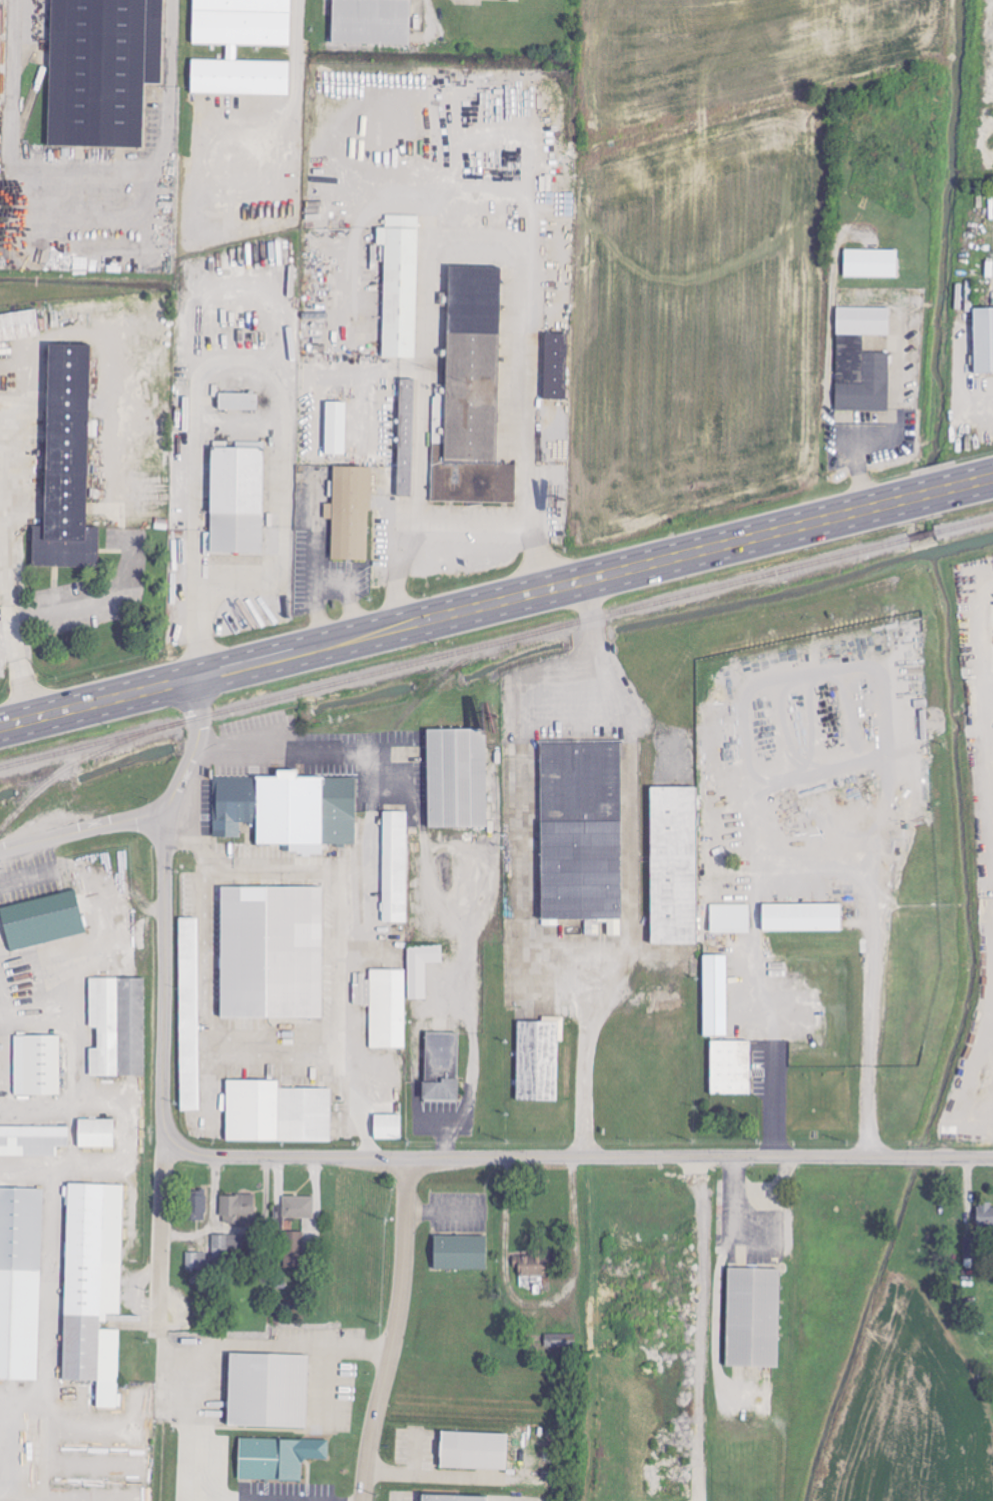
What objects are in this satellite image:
building: (376, 28)
road: (175, 43)
building: (246, 50)
building: (108, 74)
road: (45, 172)
road: (456, 239)
building: (870, 263)
building: (400, 285)
road: (239, 289)
building: (19, 325)
building: (983, 341)
building: (861, 360)
building: (555, 366)
building: (238, 401)
building: (335, 428)
building: (405, 437)
building: (66, 465)
building: (236, 501)
building: (350, 512)
road: (469, 530)
road: (317, 562)
road: (602, 576)
road: (257, 578)
road: (334, 580)
road: (9, 600)
road: (194, 603)
road: (356, 607)
road: (6, 627)
railway: (702, 635)
railway: (496, 644)
road: (546, 696)
road: (105, 701)
railway: (381, 748)
road: (283, 752)
road: (192, 753)
railway: (81, 761)
building: (457, 777)
building: (827, 783)
building: (286, 809)
building: (581, 830)
road: (81, 831)
road: (519, 833)
building: (675, 864)
building: (394, 866)
road: (632, 869)
road: (324, 878)
road: (859, 882)
road: (204, 890)
building: (729, 917)
building: (803, 917)
building: (40, 924)
building: (614, 928)
building: (594, 929)
road: (92, 949)
building: (271, 952)
road: (204, 956)
building: (188, 963)
building: (421, 968)
road: (543, 970)
building: (715, 995)
building: (383, 1006)
road: (472, 1009)
building: (118, 1025)
building: (537, 1060)
building: (189, 1063)
road: (246, 1063)
building: (36, 1065)
building: (441, 1067)
building: (730, 1067)
road: (162, 1080)
road: (770, 1097)
road: (355, 1111)
building: (277, 1112)
building: (388, 1126)
building: (96, 1132)
building: (32, 1140)
road: (576, 1158)
building: (197, 1204)
building: (298, 1207)
building: (984, 1216)
road: (443, 1219)
building: (310, 1229)
building: (970, 1248)
building: (293, 1249)
building: (459, 1252)
building: (530, 1266)
building: (20, 1281)
building: (93, 1287)
road: (715, 1294)
road: (535, 1309)
building: (753, 1317)
road: (700, 1328)
road: (395, 1330)
building: (560, 1341)
road: (270, 1343)
building: (267, 1390)
building: (473, 1450)
building: (277, 1457)
building: (452, 1498)
road: (269, 1499)

